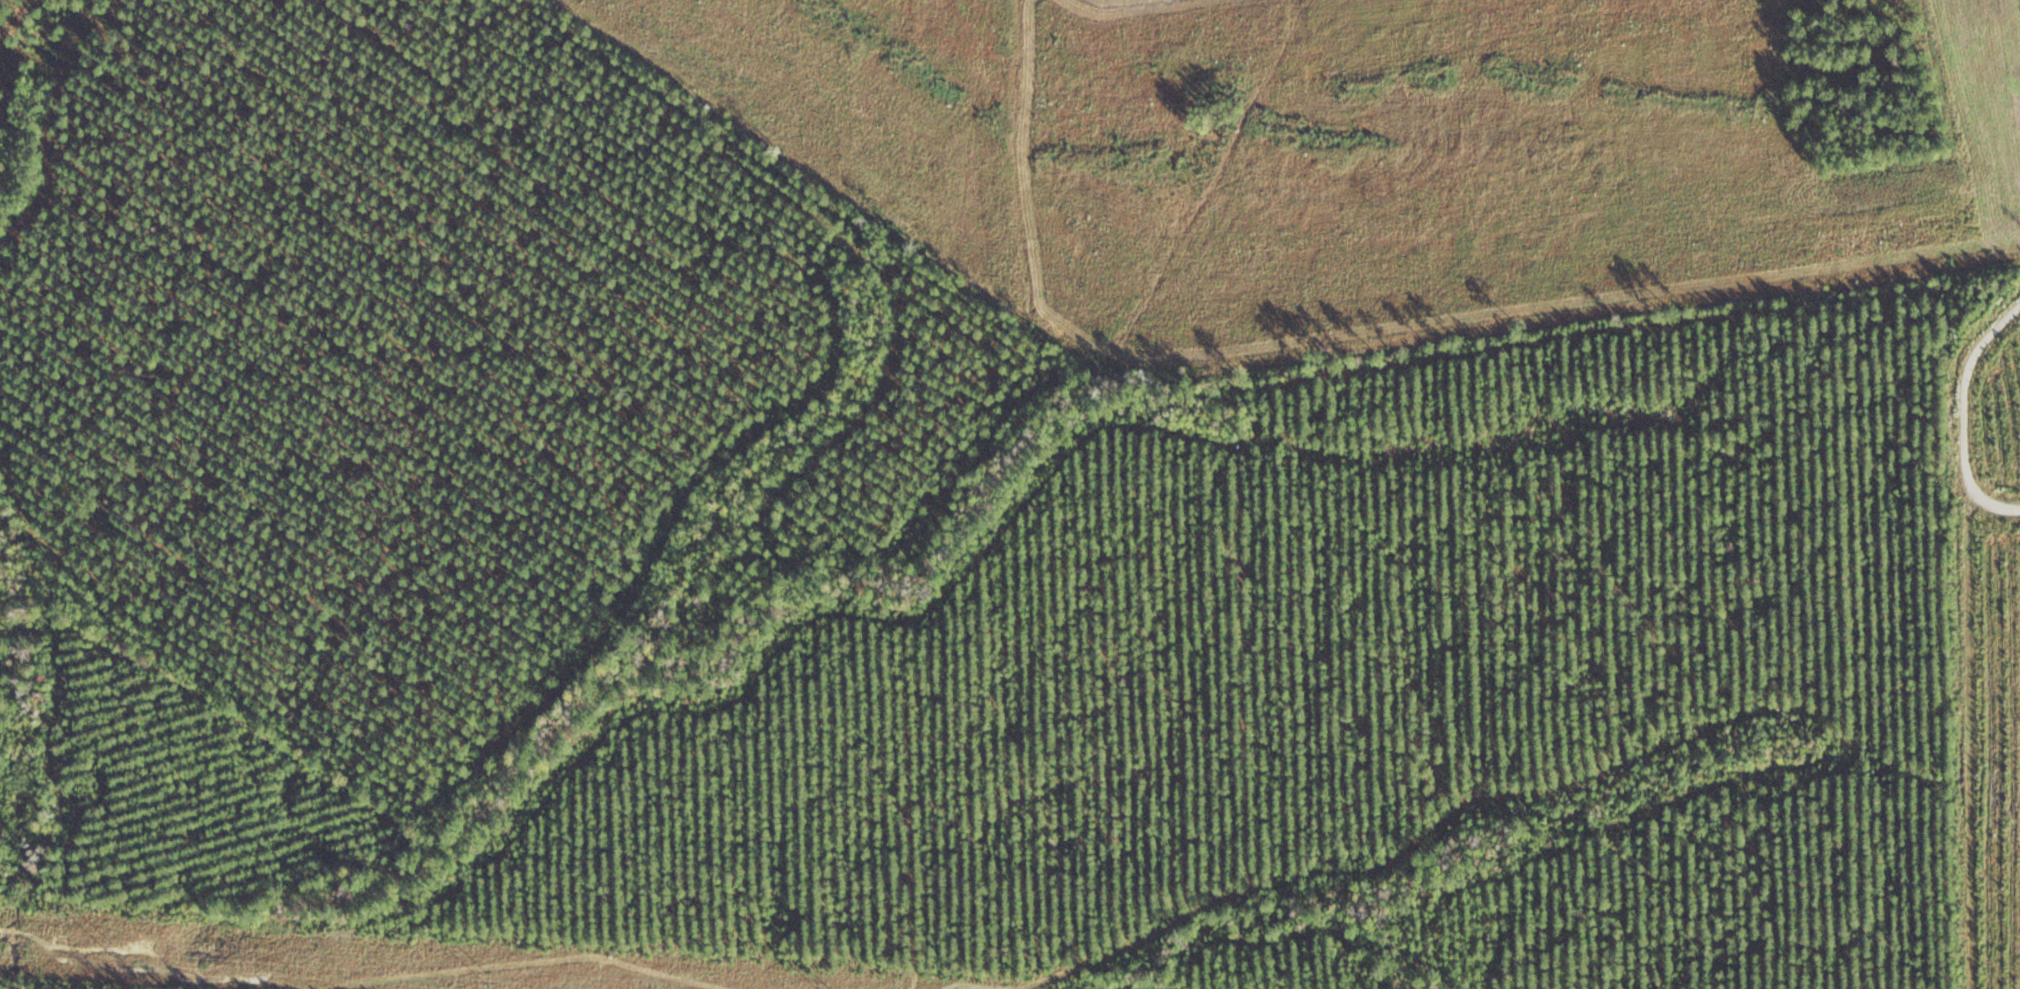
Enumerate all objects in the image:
road: (2014, 301)
road: (1977, 564)
power tower: (111, 947)
power tower: (484, 974)

